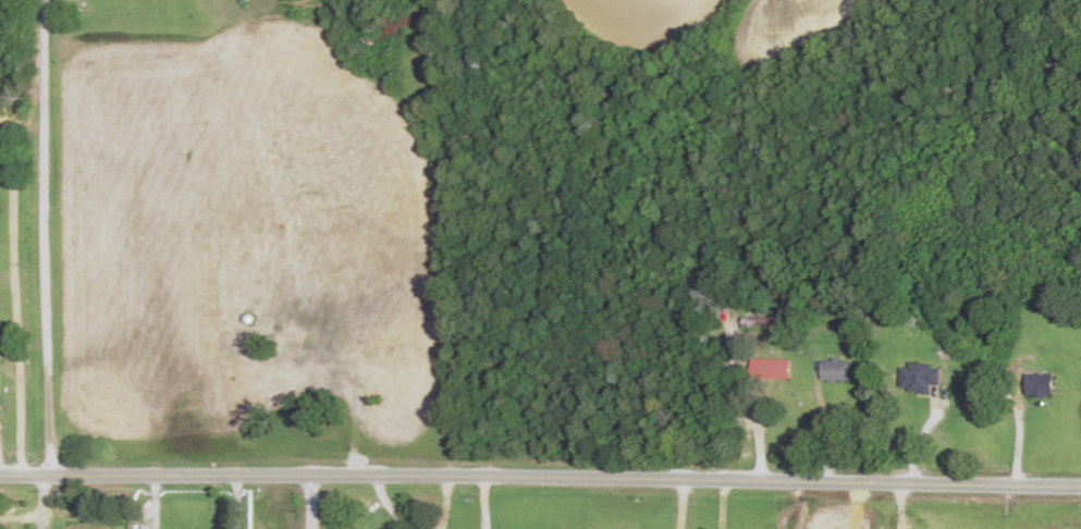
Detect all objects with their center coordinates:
building: (771, 369)
building: (835, 371)
building: (919, 378)
building: (1039, 386)
road: (250, 462)
road: (96, 469)
road: (695, 479)
road: (308, 503)
road: (748, 504)

